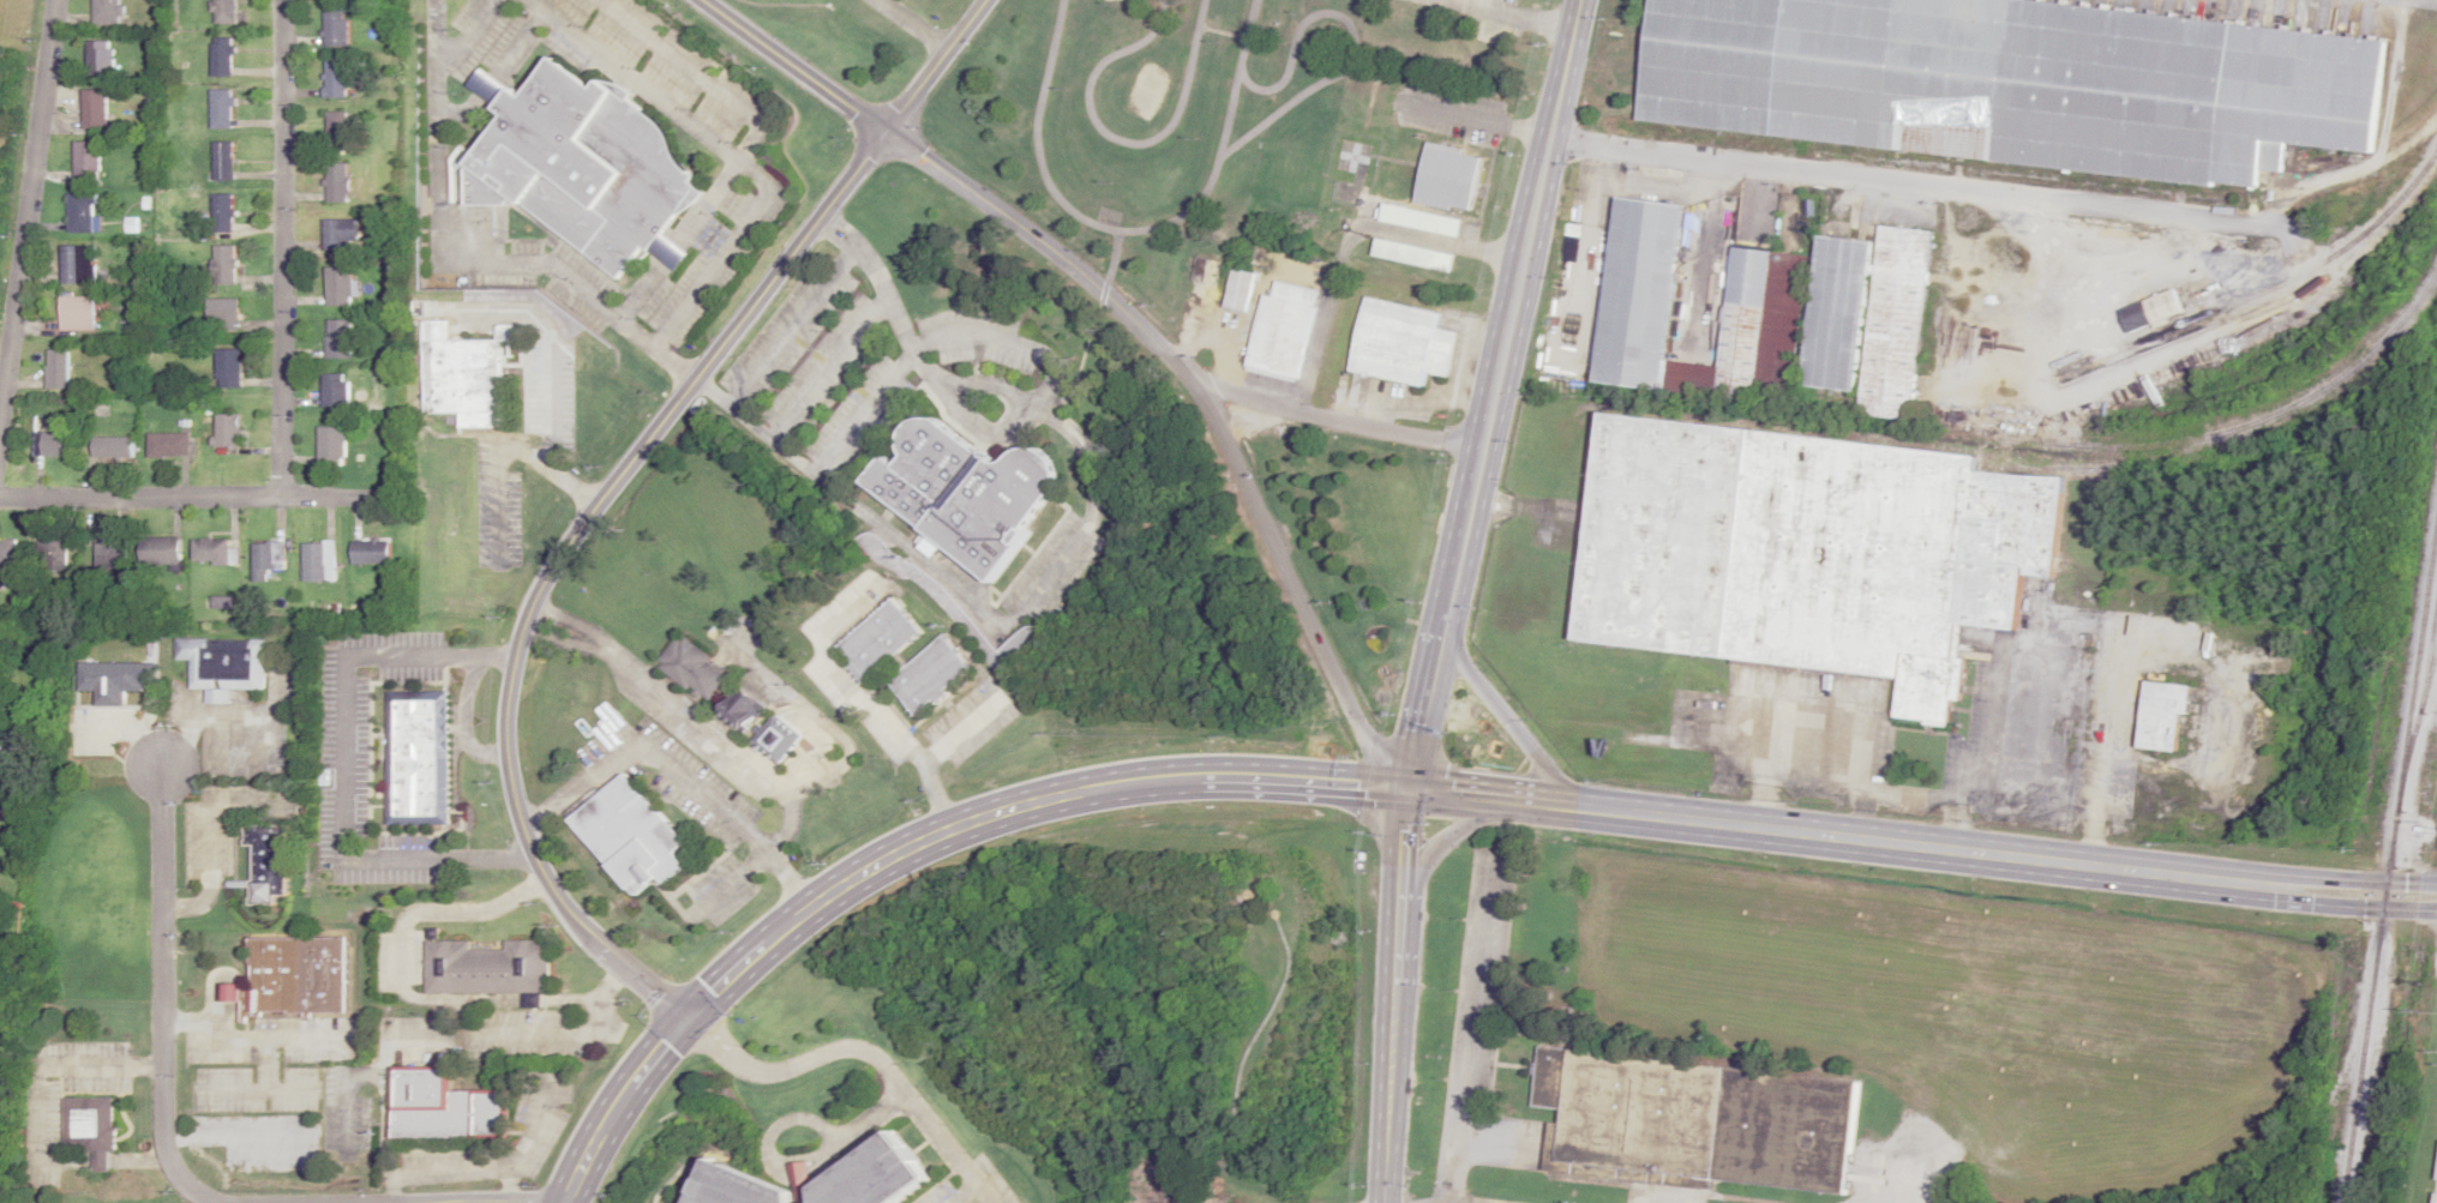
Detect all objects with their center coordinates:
building: (106, 11)
building: (223, 12)
road: (912, 23)
building: (336, 31)
road: (467, 32)
building: (221, 56)
building: (100, 59)
road: (794, 66)
road: (494, 74)
road: (704, 76)
building: (335, 79)
building: (2013, 83)
building: (94, 109)
building: (221, 109)
building: (336, 131)
road: (436, 131)
road: (713, 142)
building: (86, 162)
building: (222, 162)
road: (1758, 163)
building: (587, 166)
building: (1448, 179)
building: (336, 182)
road: (29, 206)
building: (80, 213)
building: (222, 213)
building: (338, 234)
road: (282, 246)
road: (1706, 246)
road: (1048, 247)
road: (730, 251)
building: (223, 265)
building: (77, 266)
building: (1202, 279)
building: (337, 287)
railway: (2271, 288)
road: (576, 289)
building: (2310, 289)
building: (1238, 290)
building: (1760, 307)
road: (1512, 308)
building: (2149, 311)
building: (77, 313)
building: (221, 313)
building: (1867, 319)
building: (1283, 330)
building: (337, 338)
building: (1399, 343)
building: (228, 368)
building: (58, 369)
building: (462, 377)
building: (335, 391)
road: (1337, 417)
building: (227, 429)
railway: (2079, 441)
building: (56, 444)
building: (168, 444)
building: (332, 445)
building: (112, 447)
road: (610, 489)
building: (961, 491)
road: (188, 495)
building: (160, 551)
building: (211, 551)
building: (371, 551)
building: (8, 552)
building: (52, 552)
building: (112, 552)
building: (1806, 552)
building: (268, 559)
building: (318, 559)
road: (1291, 591)
road: (534, 620)
road: (541, 621)
building: (936, 658)
building: (222, 664)
building: (695, 667)
road: (1424, 700)
building: (739, 708)
railway: (2418, 709)
building: (2161, 714)
road: (1501, 715)
road: (691, 723)
building: (775, 739)
road: (898, 740)
building: (418, 757)
road: (676, 776)
road: (804, 777)
traffic signals: (1410, 784)
road: (1947, 795)
road: (1536, 801)
building: (0, 810)
road: (1860, 812)
road: (1955, 823)
road: (952, 829)
road: (1404, 832)
building: (628, 837)
road: (1447, 837)
road: (1977, 853)
railway: (2388, 854)
building: (266, 862)
road: (2409, 895)
building: (487, 968)
building: (292, 979)
road: (160, 994)
traffic signals: (678, 1012)
road: (1389, 1041)
road: (857, 1049)
building: (446, 1106)
road: (865, 1117)
building: (1697, 1123)
building: (91, 1127)
road: (770, 1163)
building: (871, 1175)
building: (802, 1180)
parking lot: (968, 1185)
building: (732, 1186)
road: (961, 1192)

